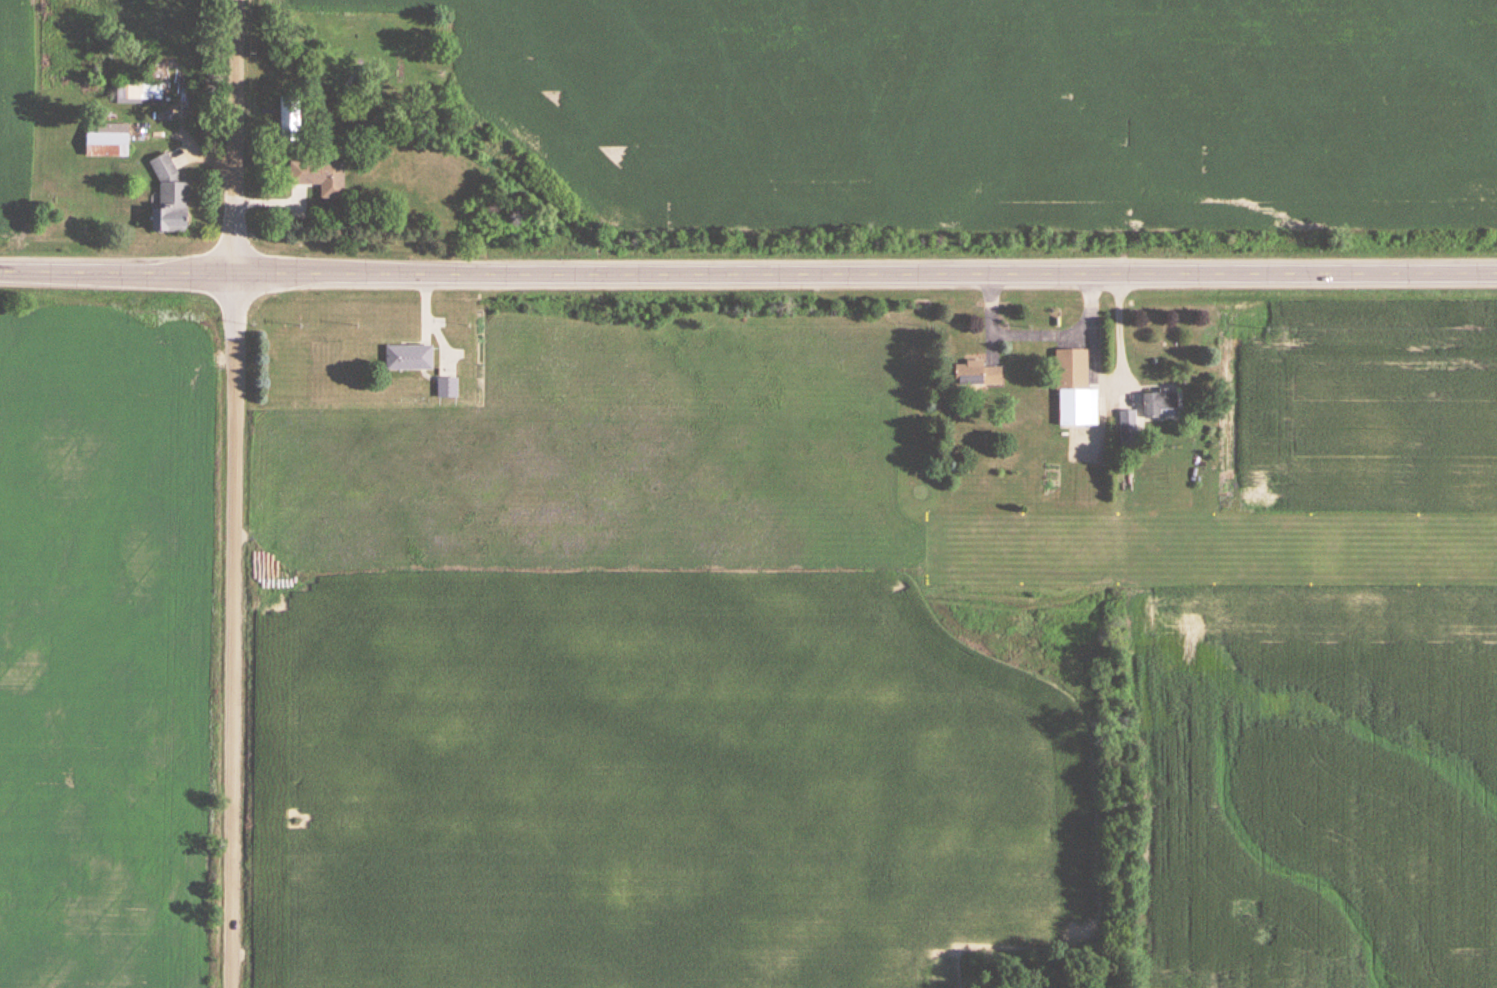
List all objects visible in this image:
building: (137, 87)
road: (236, 96)
building: (287, 112)
building: (106, 136)
building: (318, 172)
building: (167, 195)
road: (235, 232)
road: (748, 269)
road: (235, 304)
road: (1039, 335)
building: (407, 353)
road: (1120, 359)
building: (975, 371)
building: (445, 383)
building: (1073, 386)
building: (1156, 399)
building: (1127, 425)
airport runway: (1211, 545)
road: (234, 663)

